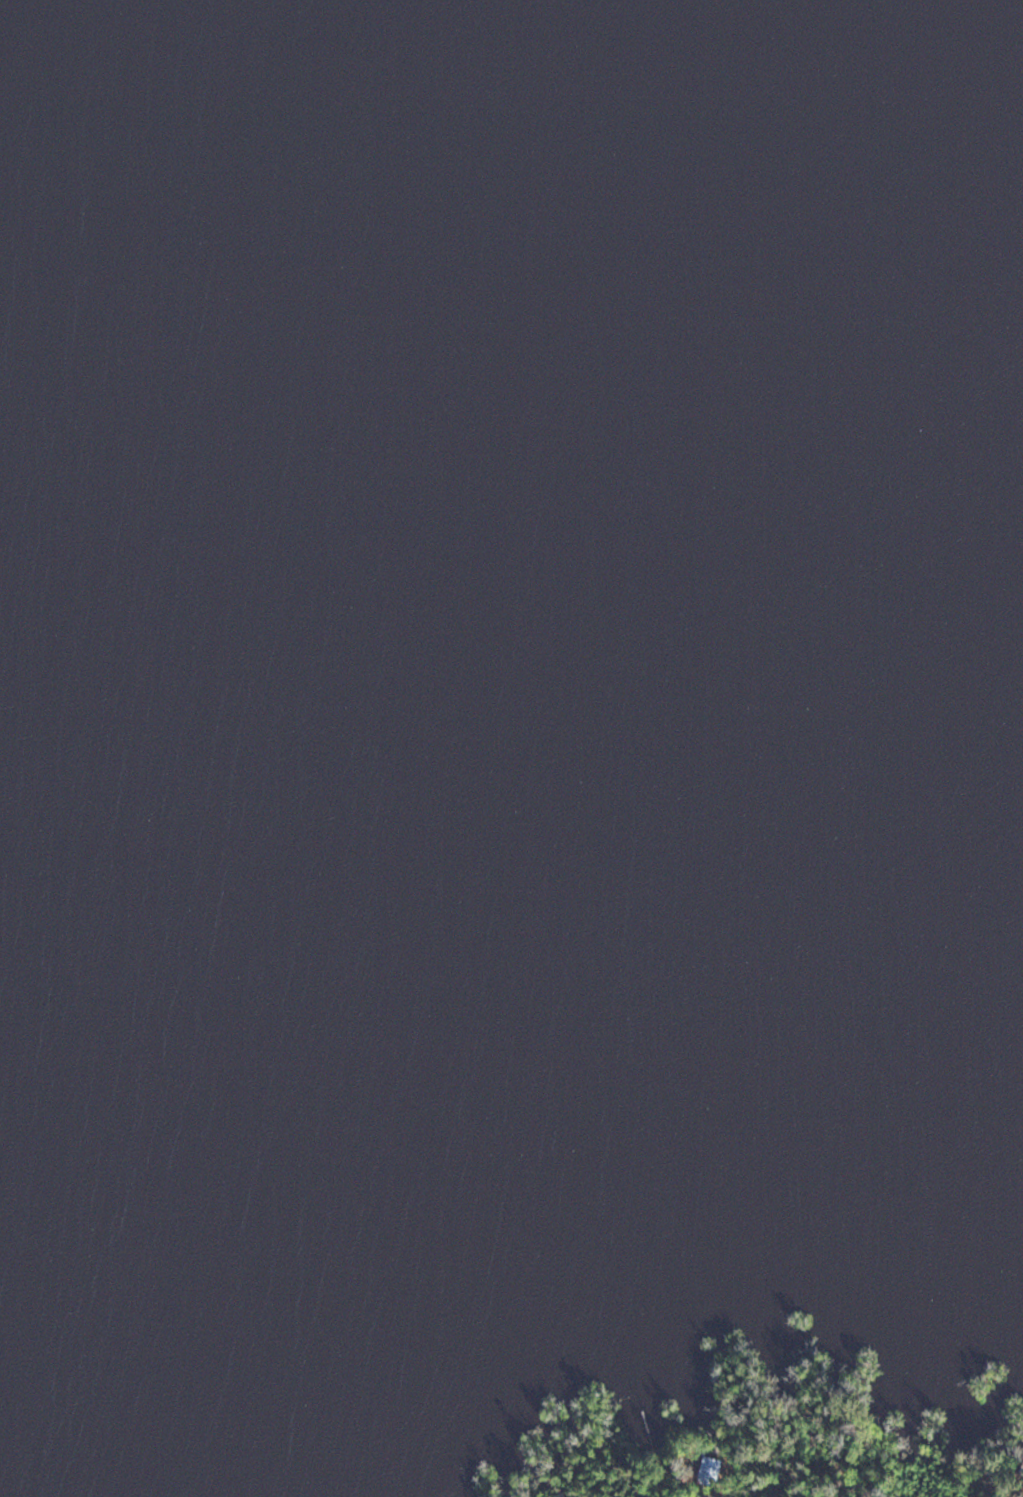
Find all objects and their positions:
building: (699, 1470)
building: (932, 1478)

